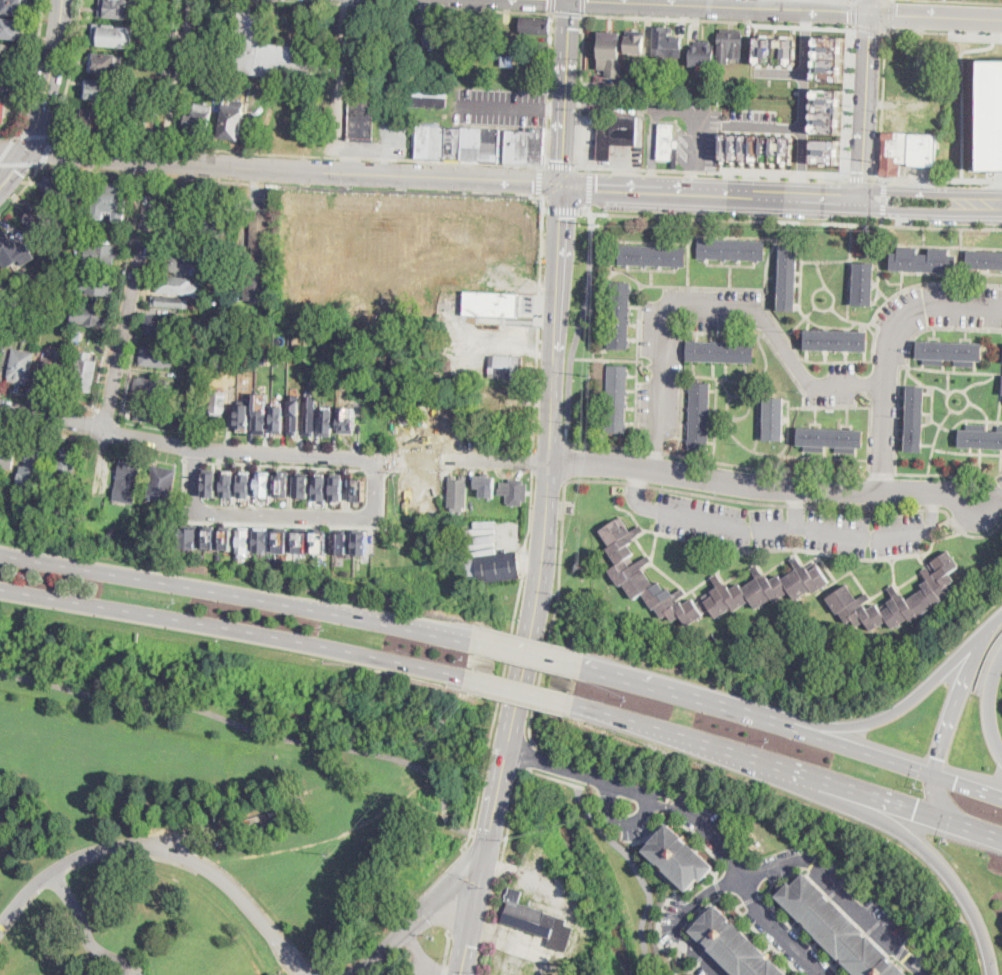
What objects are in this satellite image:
road: (975, 0)
building: (14, 5)
road: (551, 6)
road: (407, 7)
road: (583, 7)
building: (119, 9)
road: (802, 9)
road: (853, 11)
road: (567, 13)
traffic signals: (874, 13)
road: (890, 15)
road: (718, 19)
building: (535, 26)
building: (488, 27)
road: (869, 28)
building: (11, 29)
road: (939, 32)
building: (113, 35)
road: (998, 35)
building: (435, 39)
building: (635, 40)
building: (662, 40)
building: (730, 46)
building: (774, 50)
building: (267, 52)
building: (611, 52)
building: (10, 55)
building: (701, 55)
building: (826, 58)
building: (521, 61)
building: (202, 62)
building: (635, 63)
building: (656, 63)
building: (106, 64)
road: (73, 66)
road: (34, 68)
road: (780, 72)
road: (51, 77)
building: (200, 77)
building: (2, 79)
building: (246, 79)
road: (337, 84)
road: (549, 88)
building: (687, 88)
building: (673, 89)
road: (580, 90)
building: (104, 91)
road: (565, 91)
road: (961, 94)
building: (428, 96)
road: (851, 100)
road: (869, 100)
road: (803, 103)
parking lot: (498, 105)
road: (503, 105)
road: (554, 107)
road: (674, 109)
building: (3, 110)
building: (825, 110)
building: (991, 114)
parking lot: (753, 115)
building: (166, 119)
building: (200, 120)
building: (93, 121)
building: (361, 121)
building: (232, 122)
road: (764, 126)
parking lot: (694, 129)
road: (8, 135)
road: (34, 135)
building: (616, 135)
parking lot: (589, 138)
parking lot: (383, 140)
building: (458, 143)
building: (524, 144)
building: (668, 145)
road: (386, 146)
road: (8, 148)
building: (757, 148)
road: (357, 149)
road: (46, 150)
building: (825, 150)
building: (908, 150)
road: (13, 151)
road: (300, 154)
parking lot: (628, 156)
power tower: (879, 161)
road: (20, 163)
road: (562, 165)
road: (295, 167)
road: (878, 167)
road: (91, 169)
road: (13, 170)
road: (711, 172)
road: (156, 175)
road: (862, 178)
road: (540, 179)
road: (221, 180)
traffic signals: (563, 184)
road: (590, 186)
road: (621, 188)
building: (60, 189)
road: (22, 192)
road: (773, 195)
road: (884, 198)
building: (109, 201)
road: (933, 202)
building: (183, 207)
road: (590, 207)
road: (561, 209)
road: (147, 214)
building: (218, 214)
building: (77, 216)
building: (37, 218)
road: (591, 219)
road: (789, 220)
road: (883, 221)
power tower: (599, 225)
power tower: (873, 230)
building: (49, 236)
building: (9, 249)
building: (732, 249)
building: (104, 255)
building: (652, 256)
building: (258, 258)
building: (985, 260)
building: (924, 261)
building: (182, 263)
building: (788, 278)
building: (96, 282)
building: (864, 284)
building: (175, 285)
road: (120, 292)
road: (145, 299)
building: (171, 301)
building: (491, 304)
road: (718, 305)
road: (771, 313)
building: (91, 314)
parking lot: (933, 315)
building: (620, 316)
road: (539, 319)
road: (557, 324)
building: (162, 325)
road: (579, 326)
building: (14, 328)
building: (201, 331)
building: (45, 336)
building: (295, 341)
building: (837, 341)
road: (890, 348)
building: (720, 352)
building: (949, 353)
building: (156, 356)
road: (604, 358)
building: (20, 365)
building: (506, 366)
parking lot: (665, 368)
building: (356, 369)
building: (51, 372)
building: (85, 372)
building: (344, 372)
power tower: (593, 375)
building: (253, 377)
building: (201, 379)
parking lot: (831, 386)
building: (151, 388)
building: (507, 391)
building: (362, 392)
building: (616, 399)
road: (47, 400)
building: (218, 403)
building: (507, 411)
building: (160, 414)
building: (260, 414)
building: (243, 415)
building: (293, 416)
building: (699, 416)
road: (107, 417)
building: (310, 417)
road: (52, 418)
building: (277, 418)
building: (327, 418)
building: (773, 419)
building: (915, 419)
building: (345, 420)
road: (566, 433)
road: (47, 434)
building: (980, 437)
building: (831, 439)
road: (600, 443)
building: (8, 451)
road: (326, 455)
road: (195, 459)
road: (868, 459)
road: (565, 461)
building: (66, 463)
road: (533, 463)
road: (284, 465)
building: (32, 469)
road: (376, 470)
road: (548, 476)
road: (716, 478)
building: (128, 480)
parking lot: (999, 480)
building: (211, 482)
building: (162, 483)
building: (264, 483)
building: (283, 483)
building: (228, 484)
building: (245, 484)
building: (302, 484)
building: (487, 484)
building: (338, 486)
road: (658, 486)
building: (321, 488)
building: (360, 489)
road: (942, 490)
building: (515, 491)
building: (458, 493)
building: (68, 503)
road: (795, 506)
road: (280, 516)
road: (289, 523)
parking lot: (790, 526)
road: (786, 527)
building: (111, 530)
building: (126, 531)
building: (190, 537)
building: (211, 538)
building: (228, 538)
building: (263, 539)
building: (244, 540)
building: (282, 541)
building: (301, 541)
building: (322, 541)
building: (361, 541)
building: (341, 542)
road: (513, 545)
building: (498, 567)
building: (627, 570)
power tower: (590, 573)
road: (236, 598)
building: (898, 598)
road: (536, 609)
road: (993, 622)
building: (882, 630)
road: (234, 631)
road: (527, 656)
road: (506, 661)
road: (519, 692)
road: (665, 692)
road: (955, 701)
road: (990, 703)
road: (882, 717)
power tower: (452, 719)
road: (253, 730)
road: (841, 746)
road: (528, 757)
traffic signals: (938, 757)
road: (787, 768)
road: (587, 775)
road: (520, 776)
traffic signals: (955, 783)
road: (967, 786)
road: (941, 798)
park: (209, 804)
traffic signals: (915, 808)
road: (494, 811)
traffic signals: (491, 827)
road: (897, 827)
road: (710, 833)
road: (488, 834)
road: (165, 851)
power tower: (333, 853)
building: (679, 856)
road: (638, 872)
road: (456, 890)
road: (841, 892)
road: (476, 894)
road: (456, 910)
traffic signals: (424, 916)
road: (680, 920)
road: (417, 921)
building: (537, 921)
road: (81, 923)
road: (779, 928)
building: (838, 928)
road: (577, 934)
road: (465, 945)
traffic signals: (466, 945)
building: (736, 945)
road: (445, 953)
road: (423, 959)
parking lot: (130, 969)
road: (120, 970)

